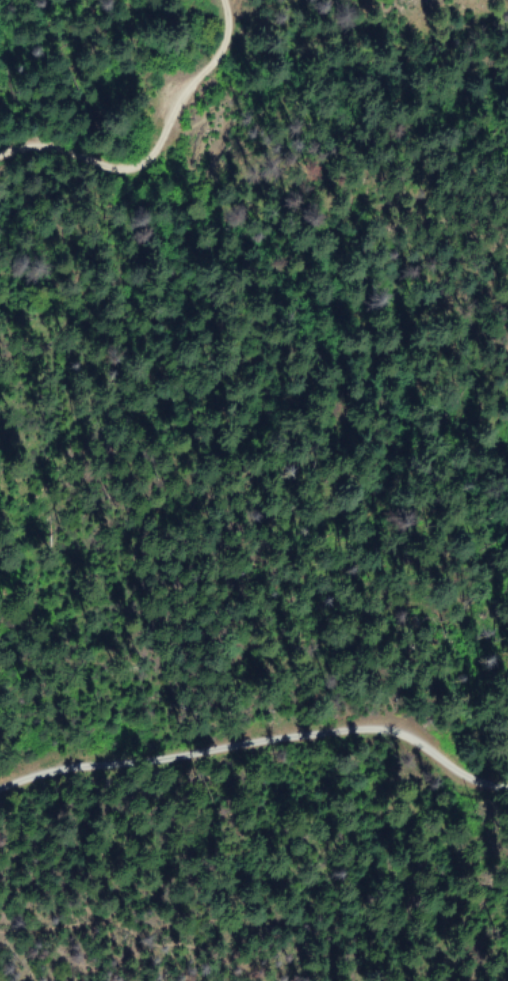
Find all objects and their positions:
road: (254, 696)

